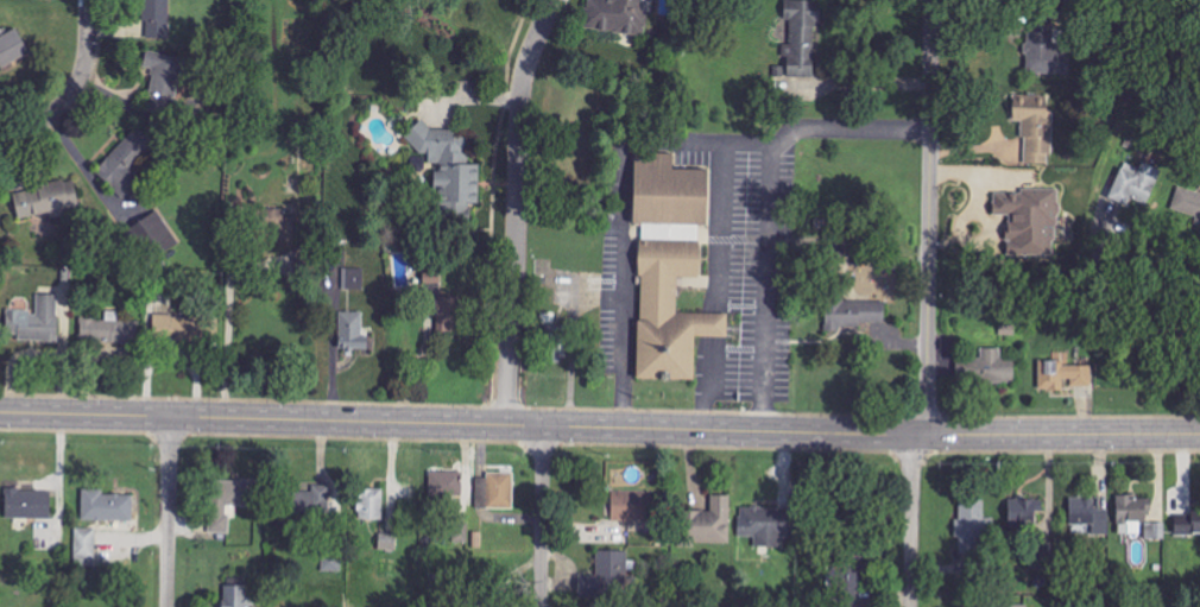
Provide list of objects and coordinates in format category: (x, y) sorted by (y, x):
building: (618, 15)
building: (157, 19)
building: (801, 38)
building: (12, 49)
building: (1046, 49)
road: (81, 75)
building: (163, 76)
building: (1035, 128)
road: (14, 134)
building: (127, 159)
building: (450, 169)
building: (1137, 185)
building: (1187, 202)
road: (763, 203)
road: (518, 210)
road: (617, 213)
road: (929, 217)
building: (1028, 220)
building: (277, 226)
road: (714, 227)
building: (670, 266)
building: (353, 278)
road: (1185, 311)
building: (447, 312)
building: (854, 314)
road: (1129, 315)
building: (34, 321)
road: (223, 321)
road: (708, 322)
building: (171, 328)
building: (106, 329)
building: (352, 330)
building: (557, 347)
building: (996, 367)
building: (1065, 375)
road: (705, 382)
road: (599, 429)
building: (446, 482)
building: (495, 491)
building: (228, 500)
building: (27, 504)
building: (371, 504)
building: (107, 506)
building: (631, 506)
road: (169, 512)
building: (1025, 512)
building: (1131, 514)
road: (542, 517)
building: (1088, 517)
road: (911, 521)
building: (709, 523)
building: (765, 525)
building: (972, 526)
building: (1187, 526)
building: (1155, 531)
building: (387, 542)
building: (86, 546)
building: (331, 562)
building: (847, 583)
building: (235, 596)
building: (1012, 606)

